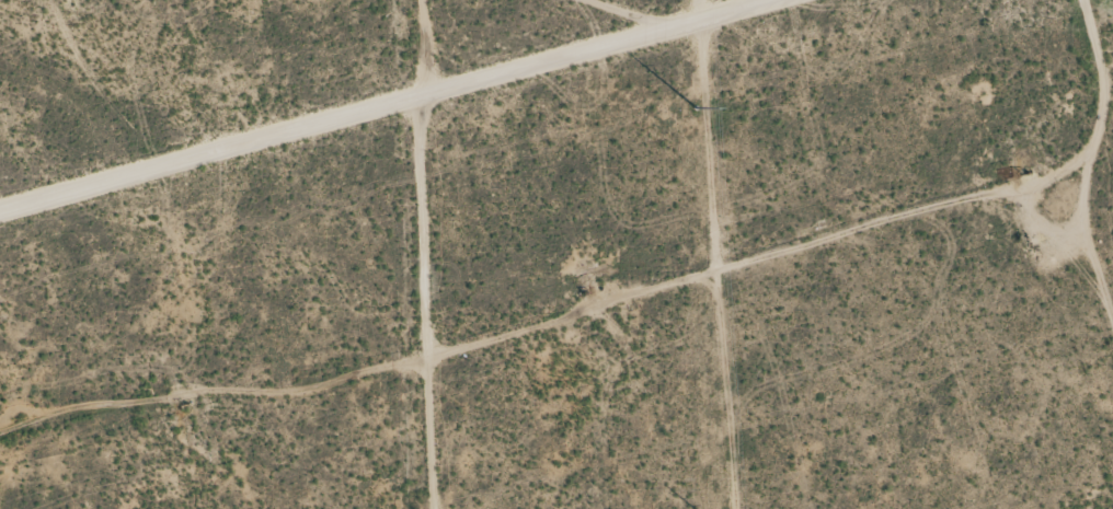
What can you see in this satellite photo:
power tower: (696, 107)
road: (371, 109)
road: (379, 309)

